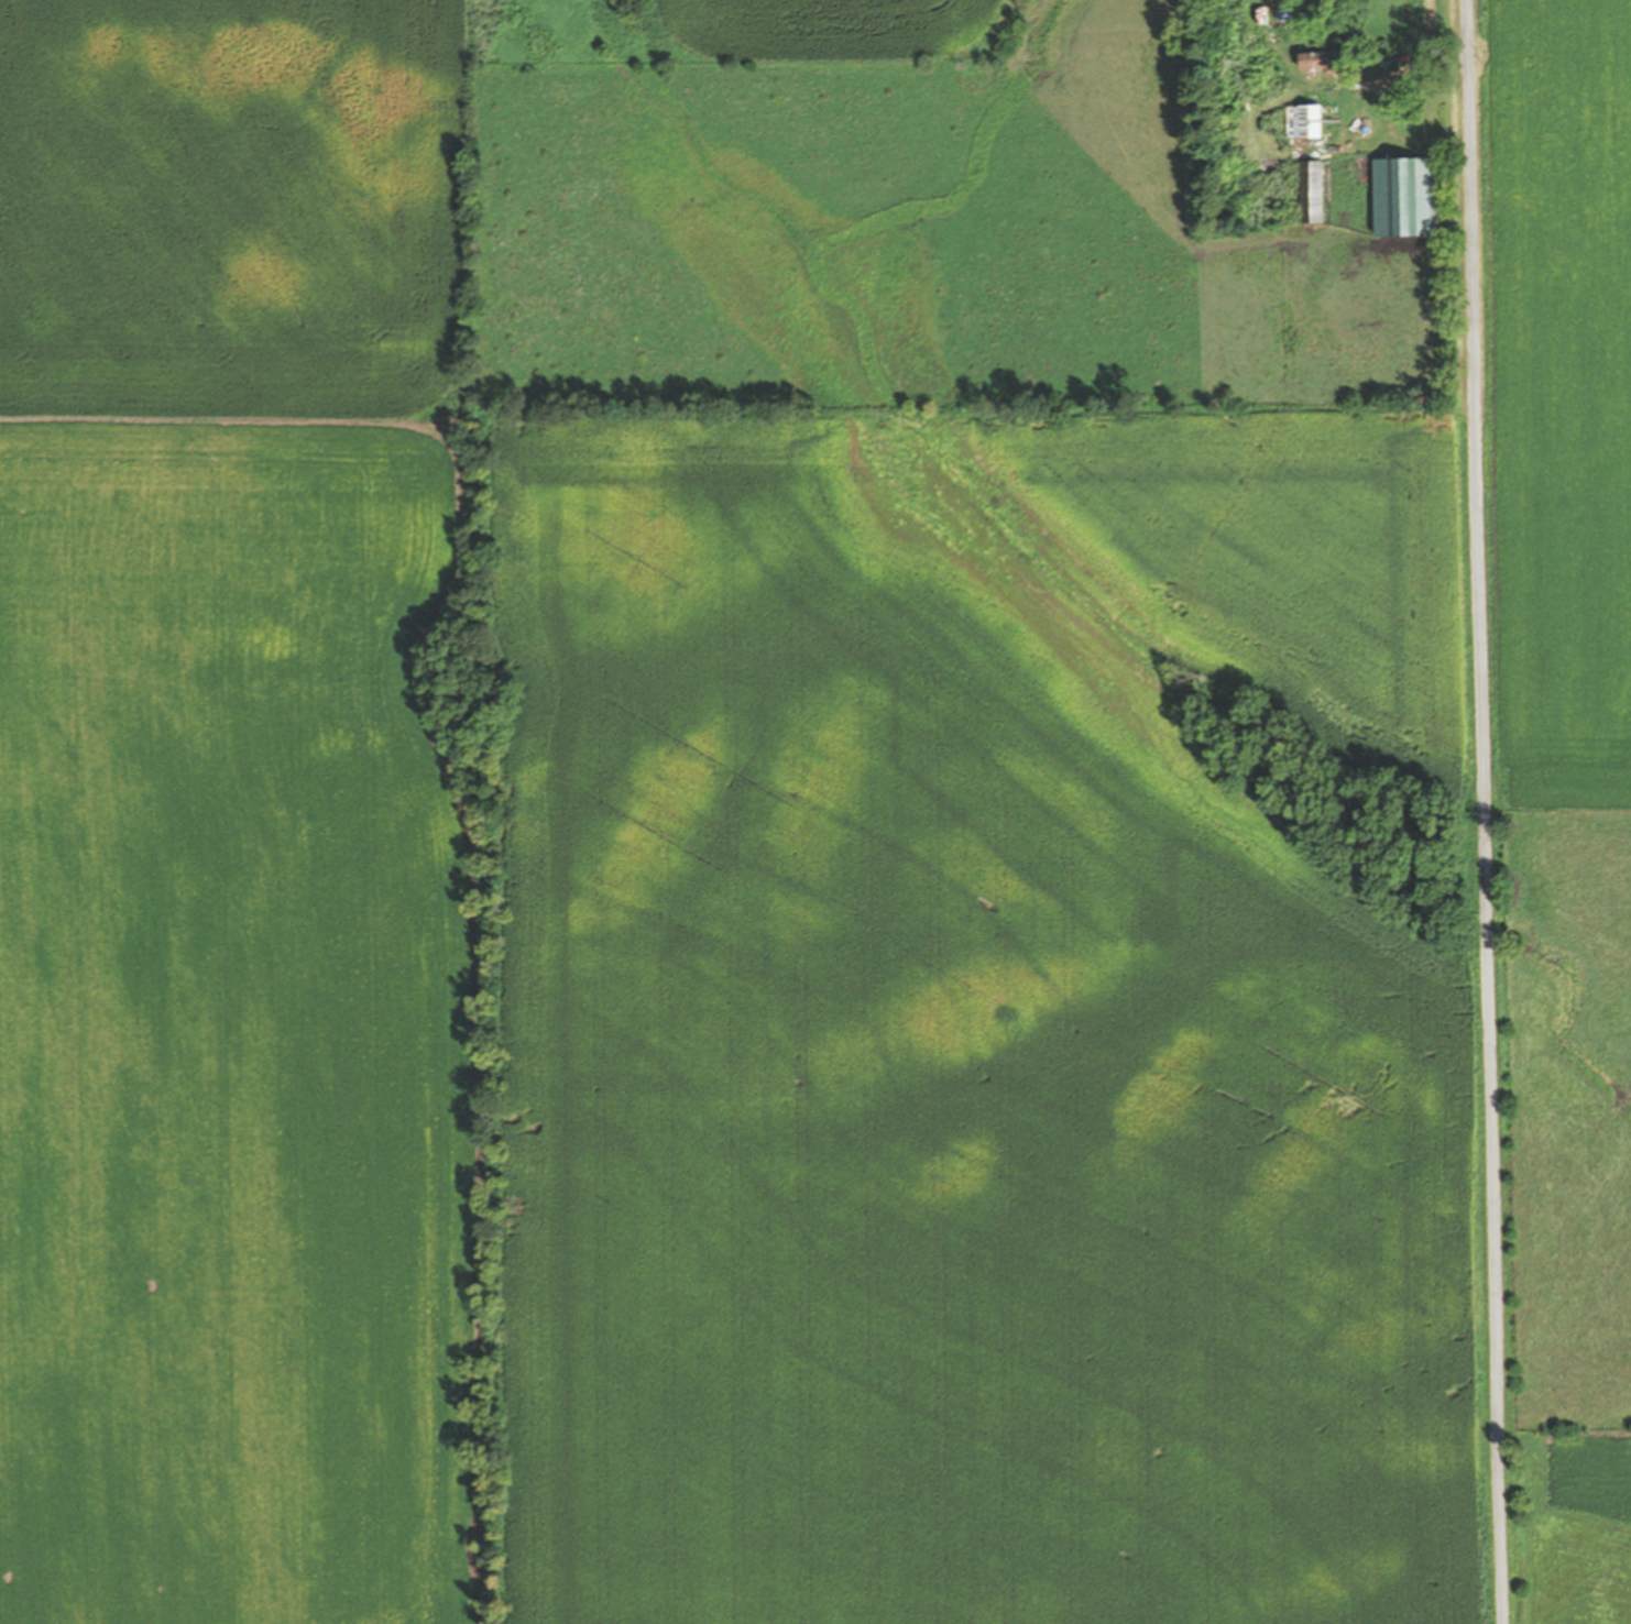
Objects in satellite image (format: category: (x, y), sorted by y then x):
road: (1486, 811)

